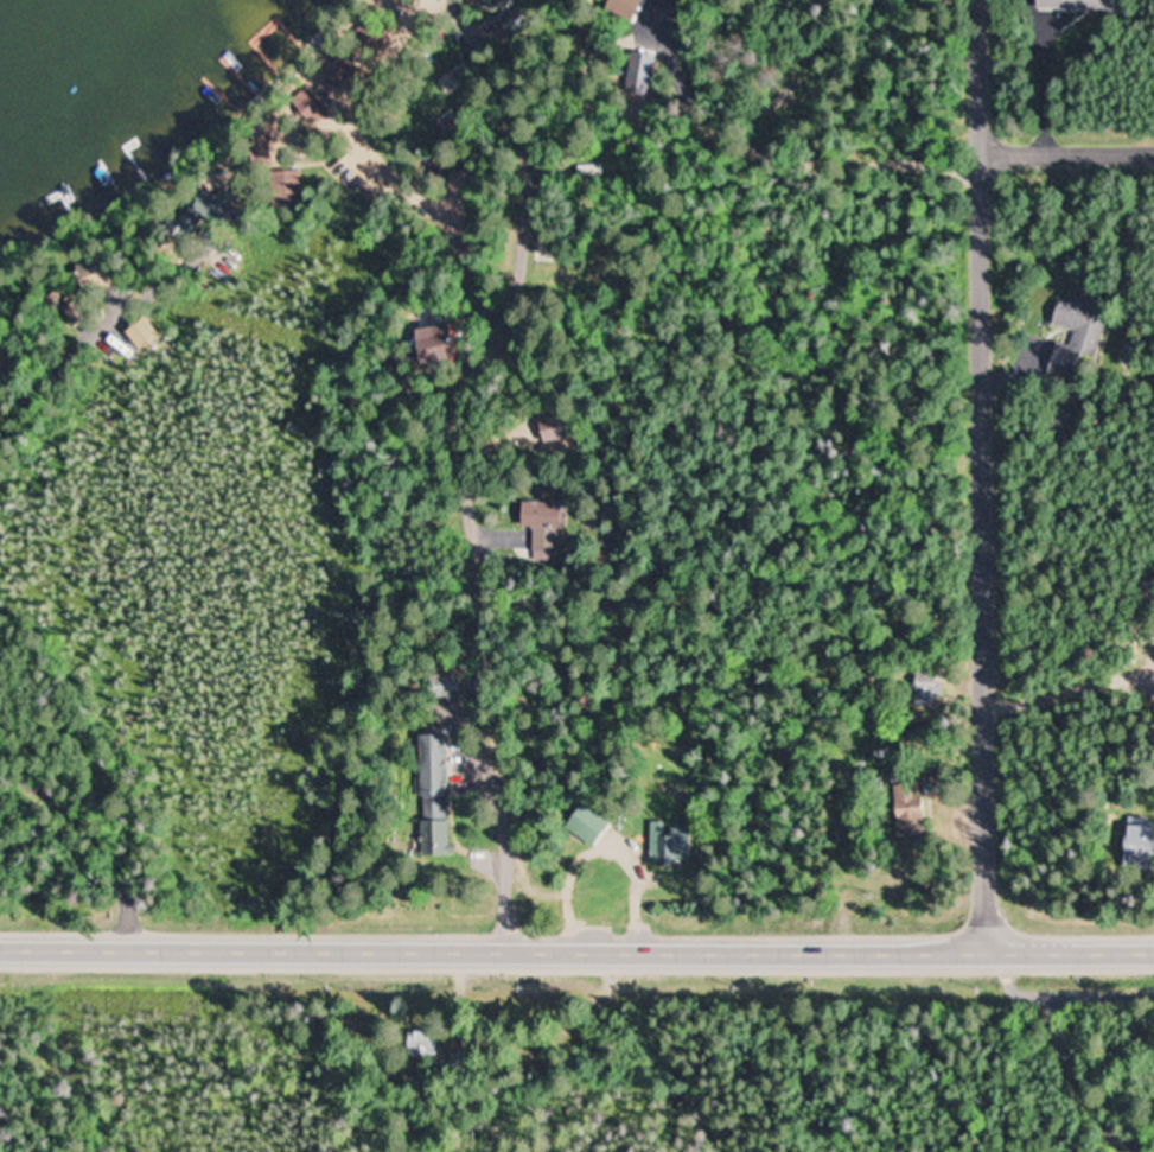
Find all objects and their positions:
building: (489, 4)
building: (1073, 5)
building: (640, 66)
building: (307, 106)
building: (260, 149)
road: (1067, 149)
building: (439, 168)
building: (285, 190)
road: (428, 210)
building: (202, 211)
building: (1076, 336)
road: (472, 421)
building: (1065, 425)
road: (983, 472)
building: (540, 527)
building: (444, 686)
building: (925, 689)
building: (431, 794)
building: (907, 807)
building: (584, 825)
road: (78, 840)
building: (1135, 841)
building: (668, 844)
road: (576, 944)
road: (1059, 992)
building: (429, 1046)
building: (467, 1062)

